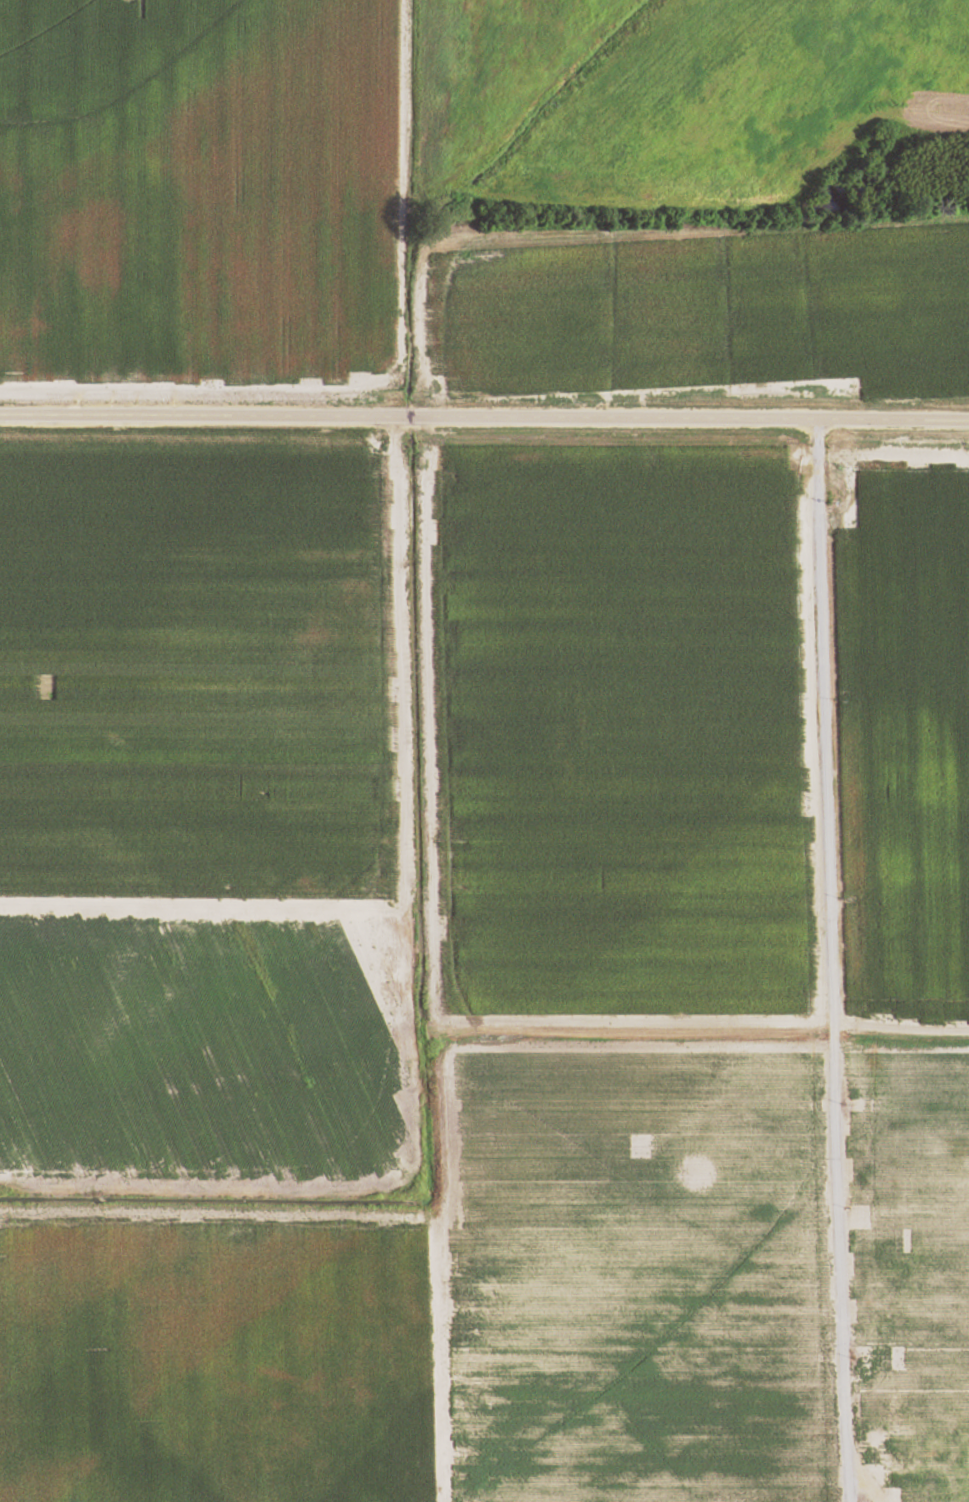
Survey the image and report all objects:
road: (484, 418)
road: (834, 961)
road: (918, 1463)

